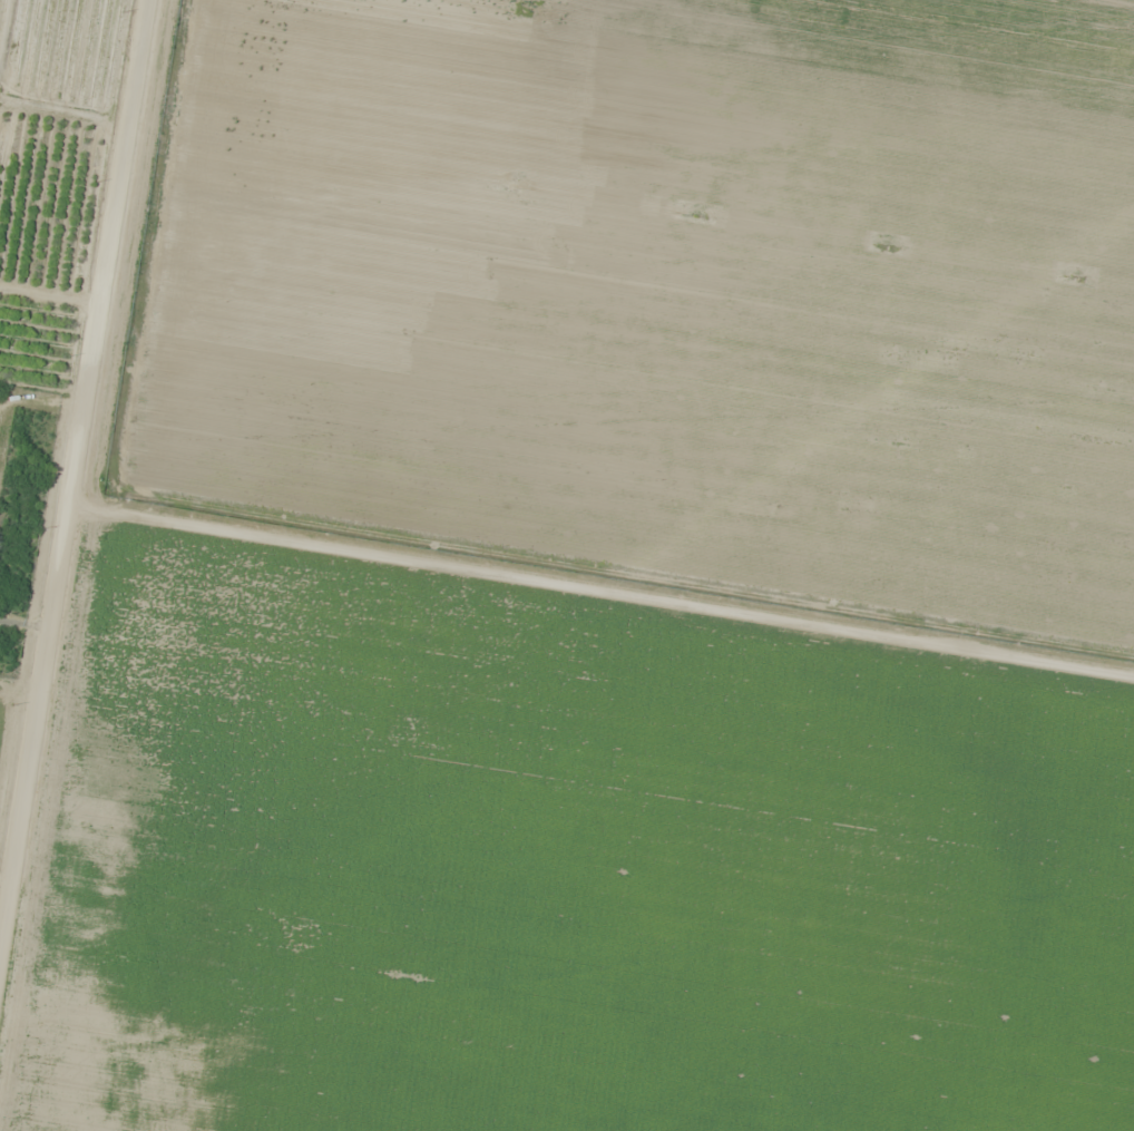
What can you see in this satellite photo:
road: (78, 448)
road: (602, 595)

